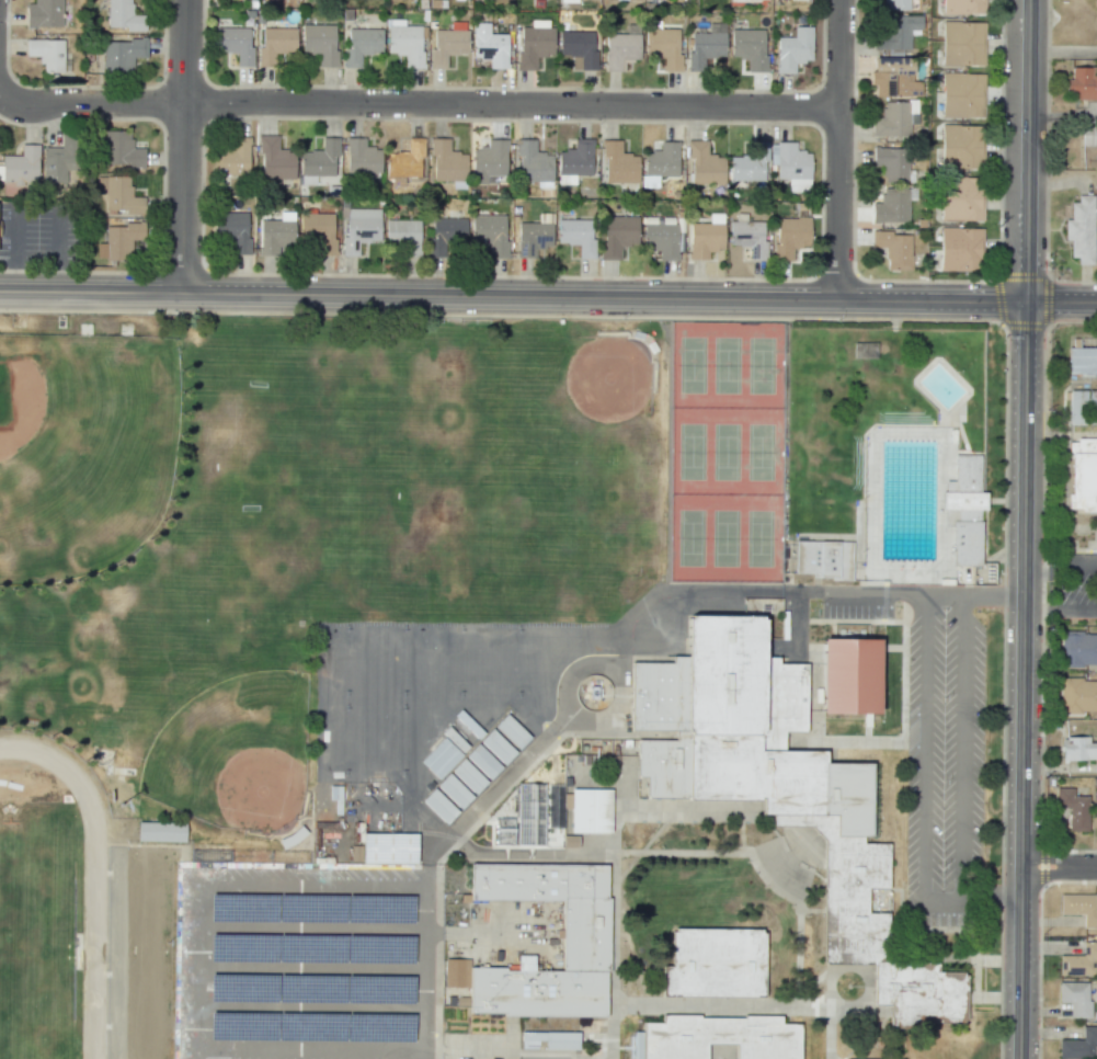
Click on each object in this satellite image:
building: (568, 1)
building: (895, 4)
building: (962, 7)
building: (43, 13)
building: (123, 15)
building: (895, 31)
building: (235, 43)
building: (320, 43)
building: (404, 43)
building: (534, 43)
building: (962, 43)
building: (275, 44)
building: (447, 44)
building: (361, 45)
building: (706, 45)
building: (489, 46)
building: (579, 47)
building: (663, 47)
building: (749, 47)
building: (620, 49)
building: (793, 49)
building: (46, 53)
road: (1063, 53)
building: (122, 55)
street lamp: (12, 75)
building: (892, 77)
building: (1082, 83)
building: (961, 94)
road: (418, 104)
road: (1062, 114)
building: (894, 118)
building: (1089, 137)
road: (181, 146)
building: (960, 147)
building: (119, 149)
road: (837, 149)
road: (1027, 150)
building: (230, 157)
building: (361, 157)
building: (58, 159)
building: (275, 159)
building: (320, 159)
building: (488, 160)
building: (662, 160)
building: (574, 161)
building: (447, 162)
building: (404, 163)
building: (618, 163)
building: (891, 163)
building: (21, 164)
building: (533, 164)
building: (705, 164)
building: (749, 164)
building: (790, 166)
building: (118, 194)
building: (960, 198)
building: (891, 205)
building: (359, 228)
building: (231, 229)
building: (1079, 229)
building: (317, 231)
building: (489, 234)
building: (446, 235)
building: (576, 235)
building: (618, 235)
building: (403, 236)
building: (747, 236)
building: (789, 236)
building: (275, 237)
building: (706, 237)
building: (533, 238)
building: (661, 239)
building: (121, 240)
building: (893, 249)
building: (960, 249)
traffic signals: (1026, 271)
street lamp: (857, 272)
road: (513, 296)
traffic signals: (990, 301)
traffic signals: (1056, 303)
road: (1061, 303)
street lamp: (192, 314)
street lamp: (622, 319)
street lamp: (836, 320)
traffic signals: (1027, 335)
building: (1083, 361)
building: (1082, 408)
park: (81, 449)
park: (727, 451)
building: (1083, 475)
park: (304, 481)
building: (967, 509)
building: (824, 560)
road: (1060, 568)
road: (843, 595)
road: (974, 599)
road: (1060, 610)
building: (1078, 649)
road: (617, 672)
building: (853, 676)
road: (1022, 680)
park: (412, 690)
building: (1078, 695)
building: (469, 725)
building: (513, 731)
building: (456, 740)
parking lot: (937, 741)
building: (499, 747)
road: (964, 747)
building: (1077, 749)
park: (236, 753)
building: (441, 759)
building: (483, 762)
building: (469, 777)
building: (781, 789)
building: (455, 790)
road: (925, 794)
building: (441, 806)
building: (1072, 808)
building: (591, 811)
building: (523, 819)
building: (160, 831)
building: (391, 849)
road: (434, 858)
road: (1059, 866)
road: (316, 892)
track: (52, 902)
building: (1079, 908)
park: (39, 916)
road: (315, 926)
building: (586, 929)
building: (1078, 960)
parking lot: (307, 964)
building: (716, 965)
road: (313, 969)
building: (454, 972)
road: (201, 975)
building: (1075, 998)
road: (313, 1011)
building: (718, 1038)
building: (553, 1039)
building: (1078, 1045)
road: (312, 1051)

